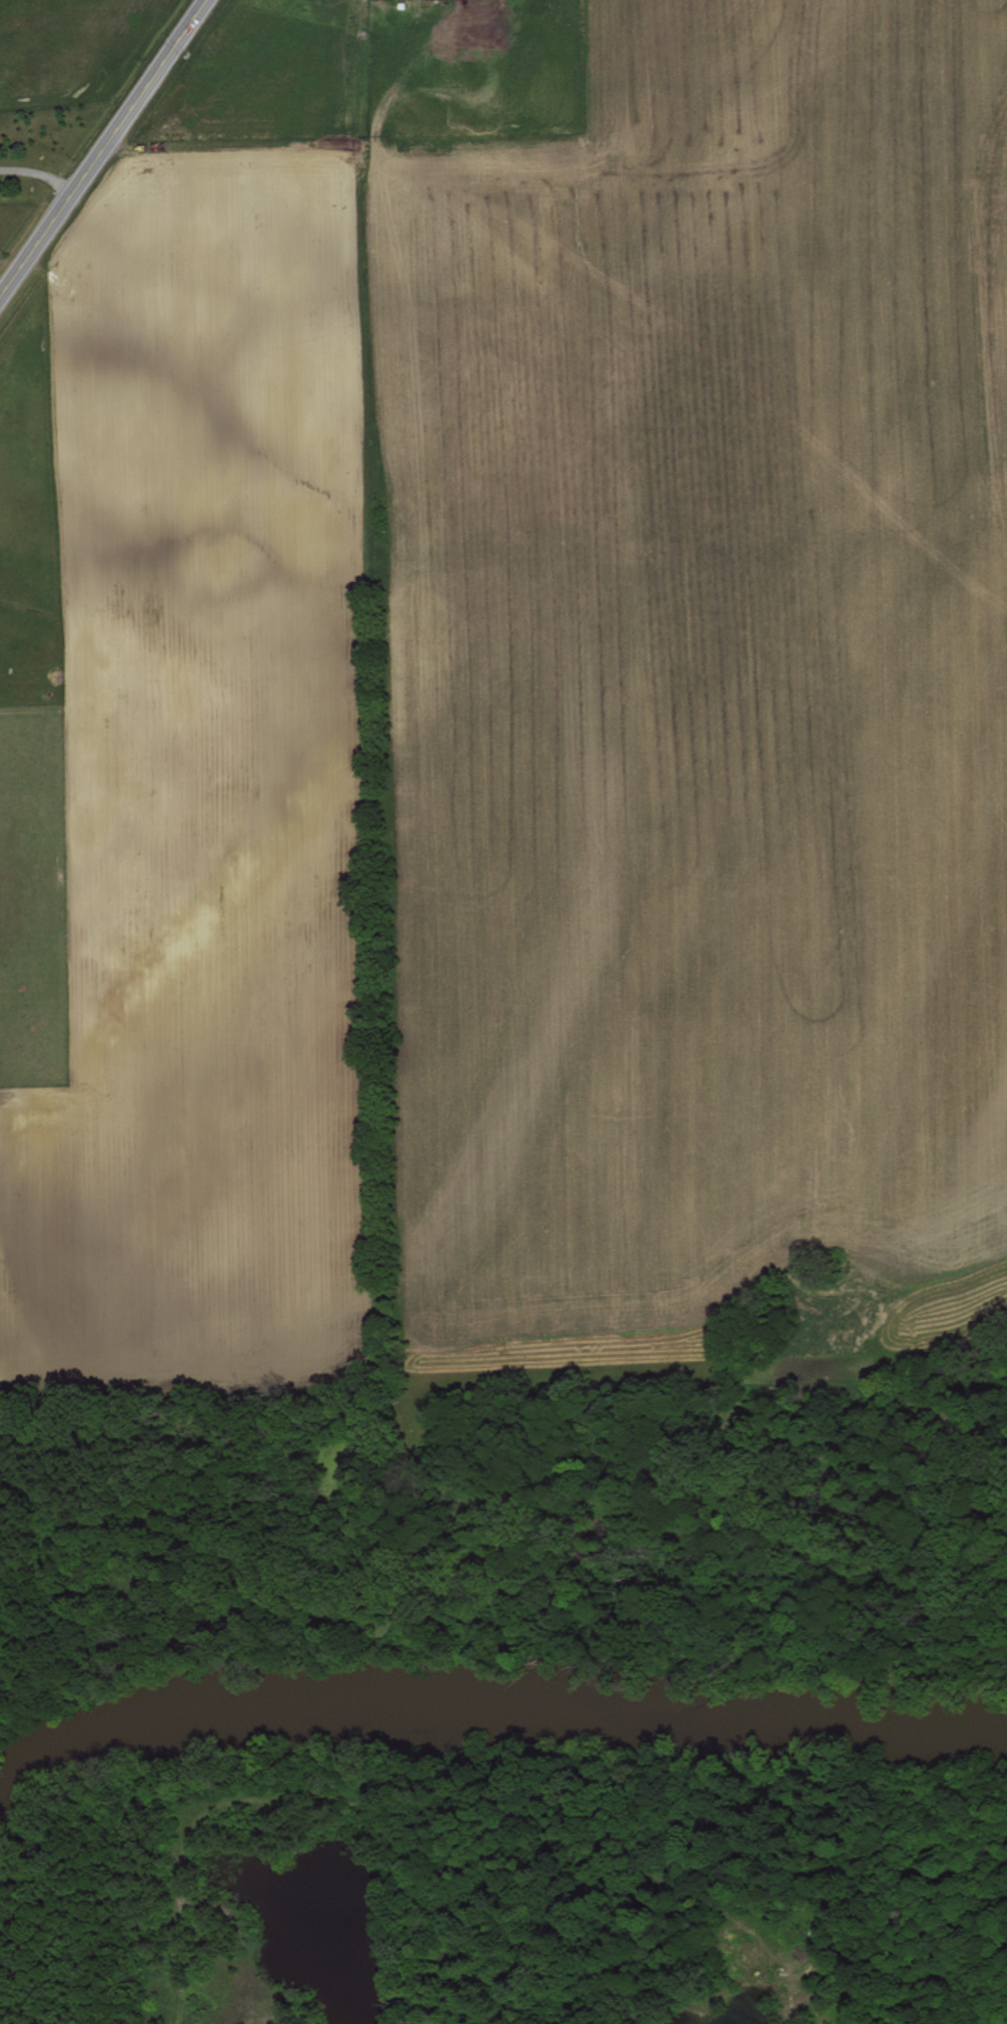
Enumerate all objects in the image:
road: (103, 147)
road: (38, 174)
river: (489, 1692)

